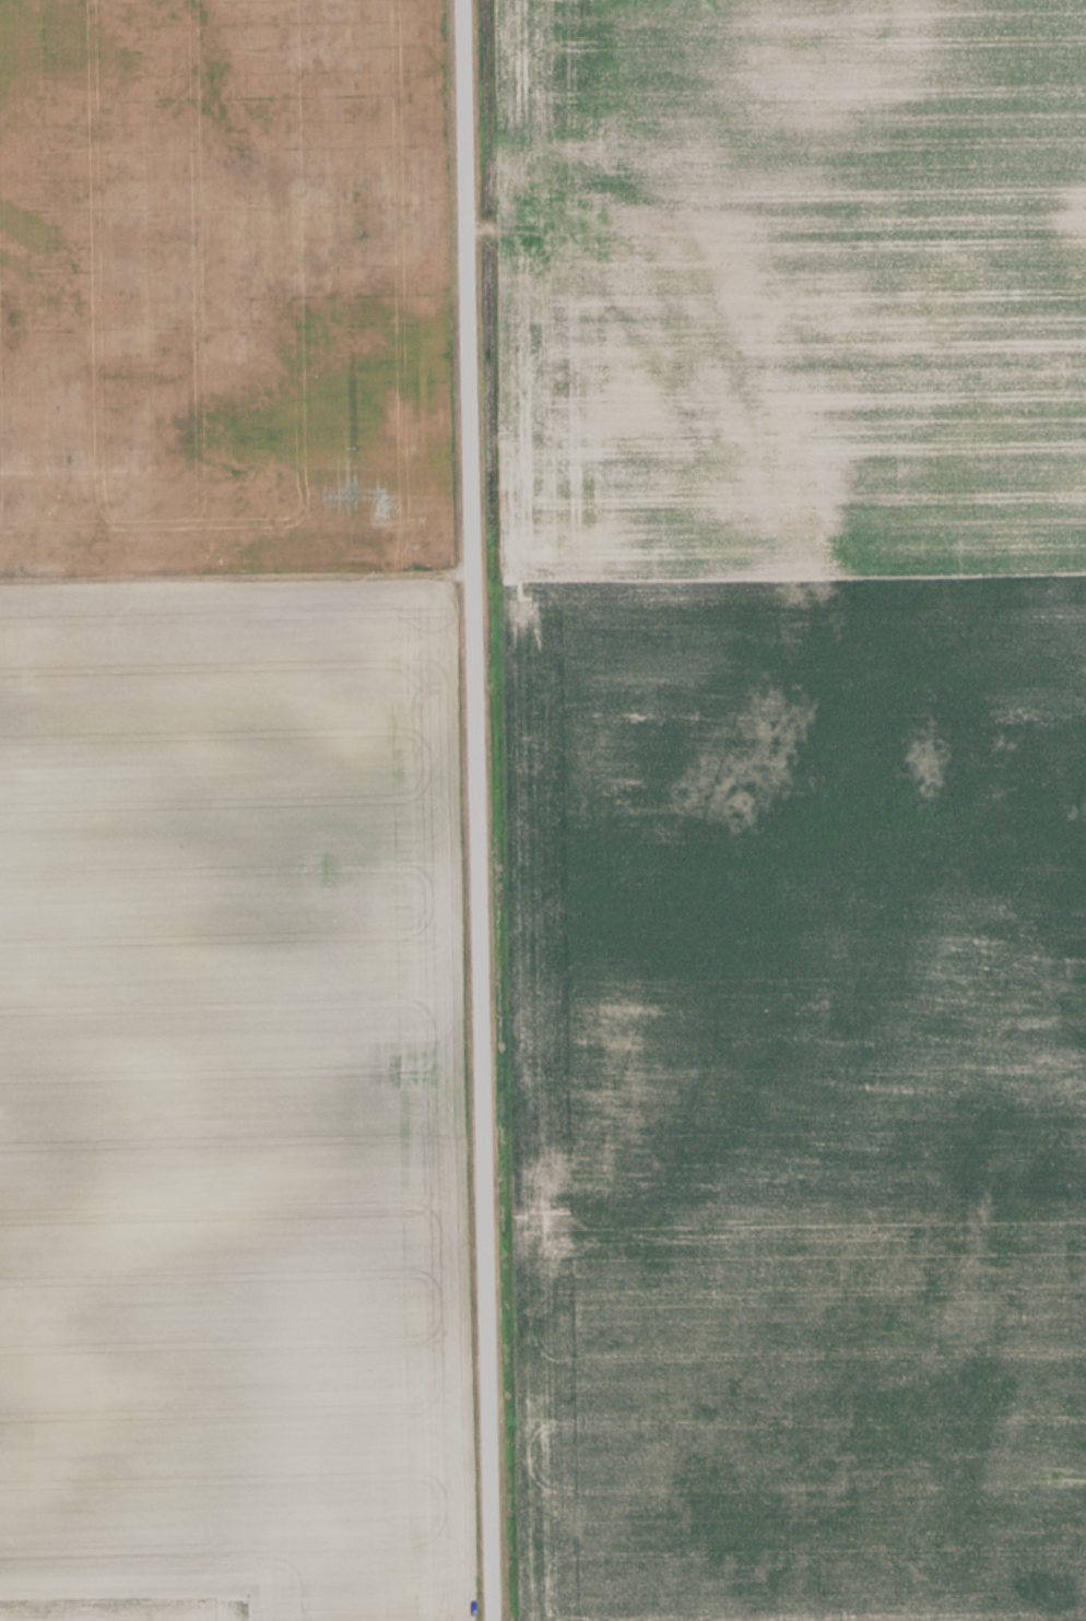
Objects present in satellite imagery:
road: (481, 811)

